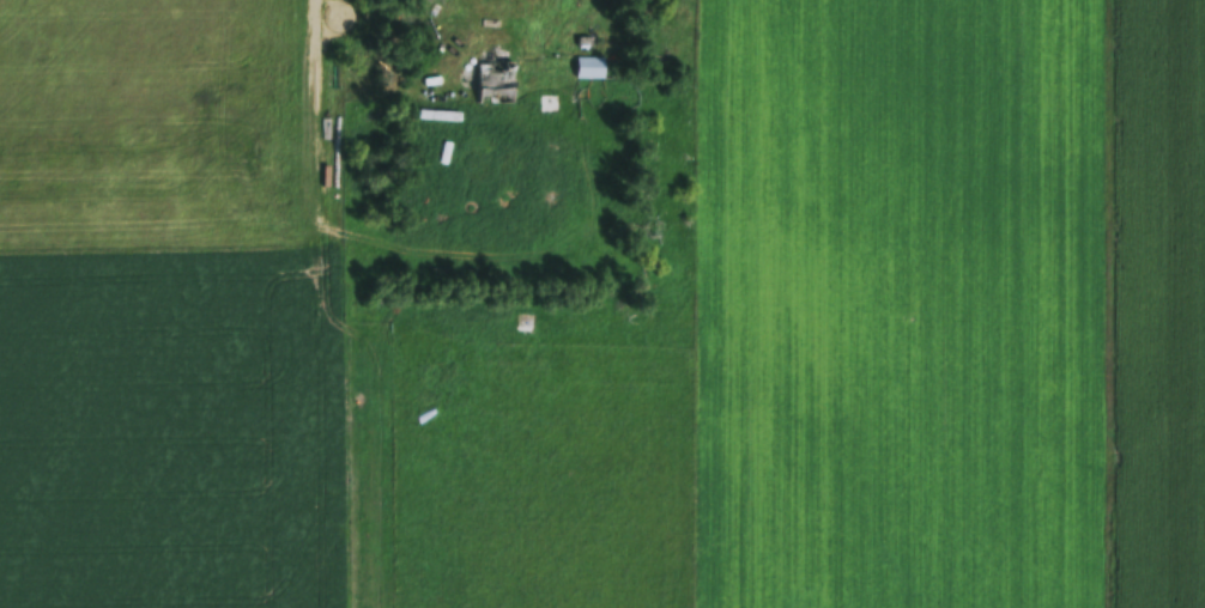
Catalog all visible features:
road: (597, 25)
building: (591, 69)

